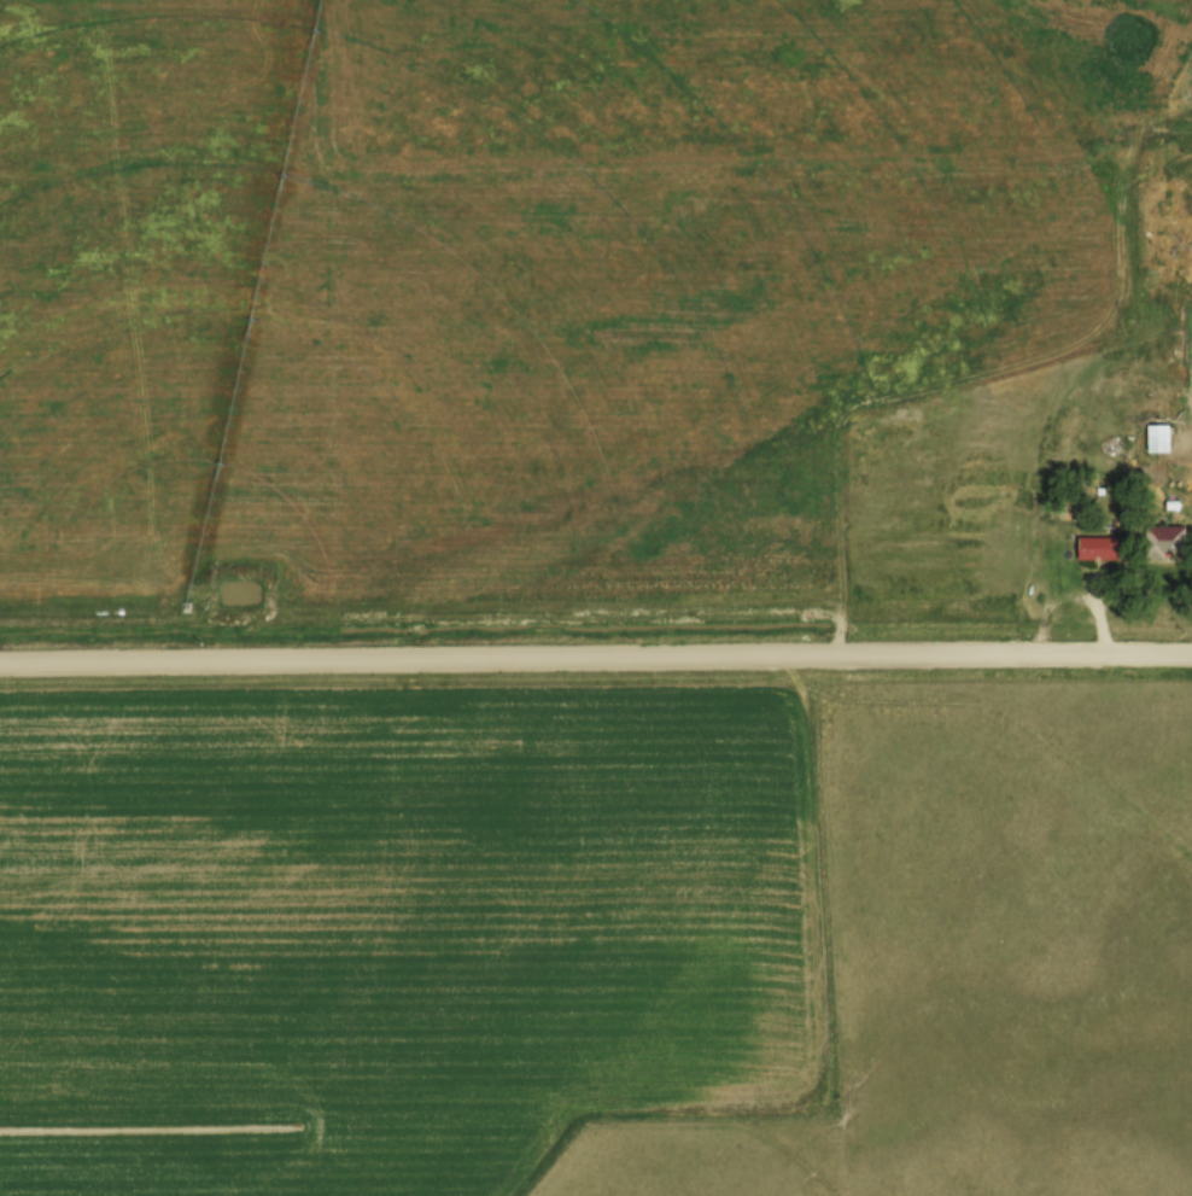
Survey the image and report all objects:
building: (1157, 437)
road: (1191, 479)
building: (1163, 539)
building: (1097, 547)
road: (596, 661)

